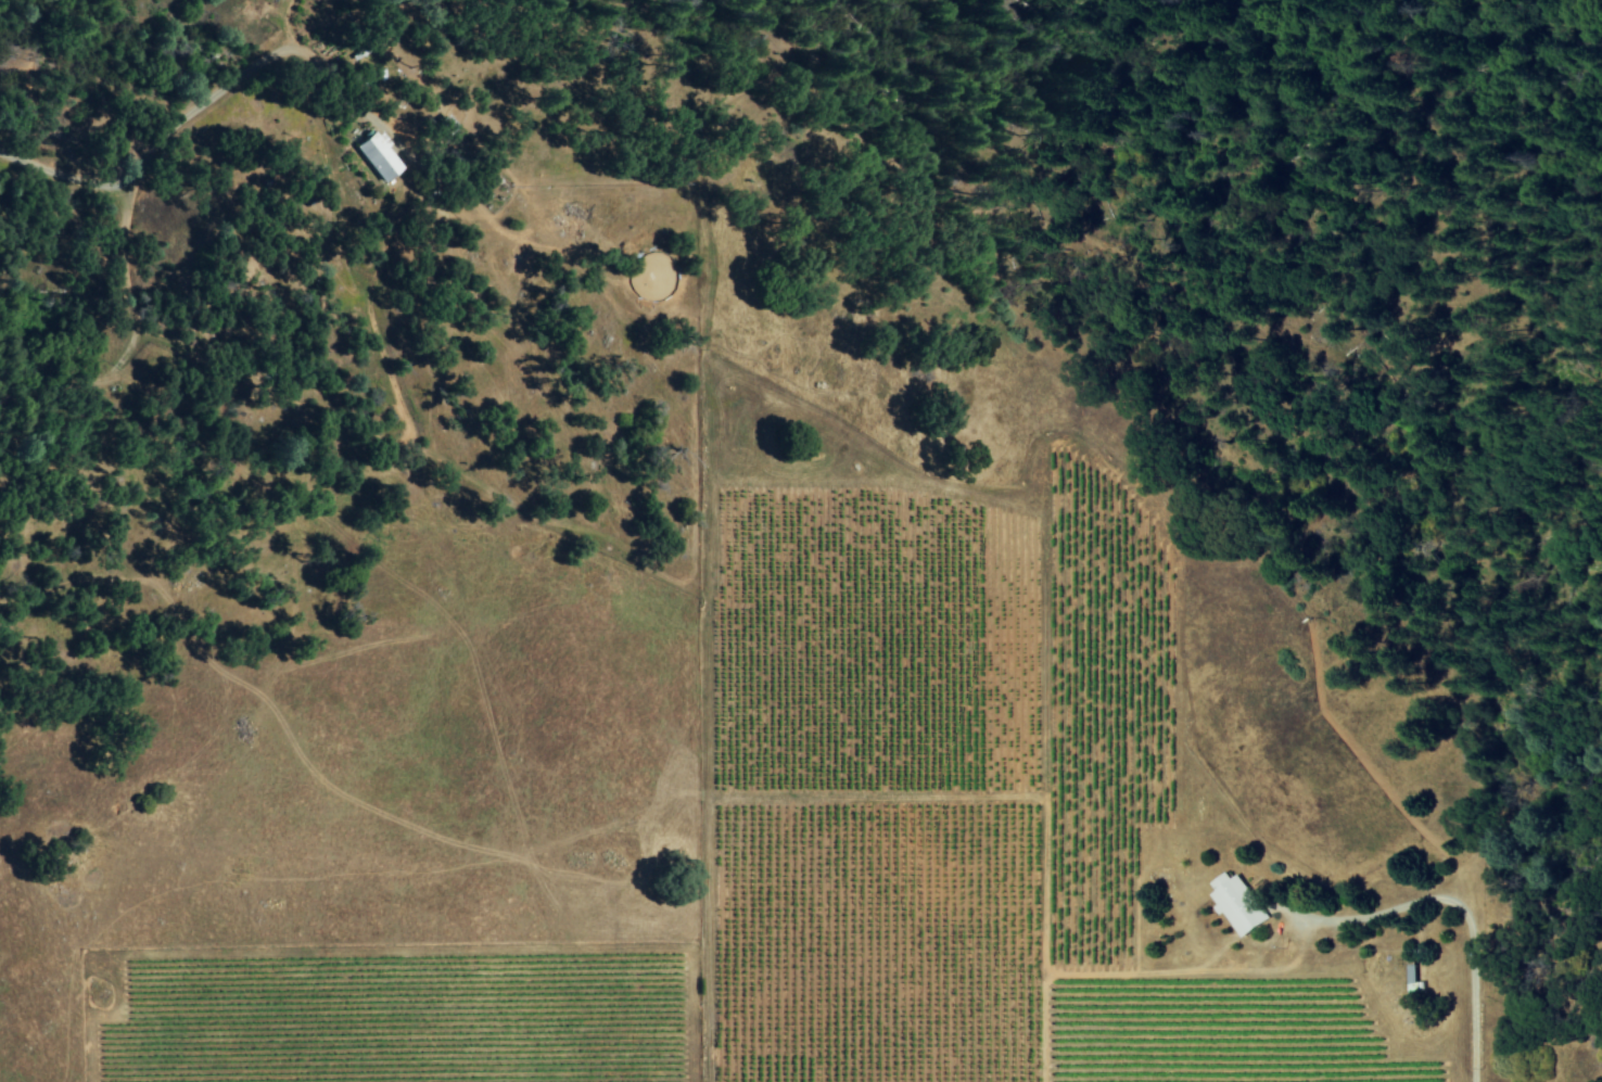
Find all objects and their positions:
building: (377, 157)
building: (1239, 905)
road: (1463, 908)
building: (1414, 980)

